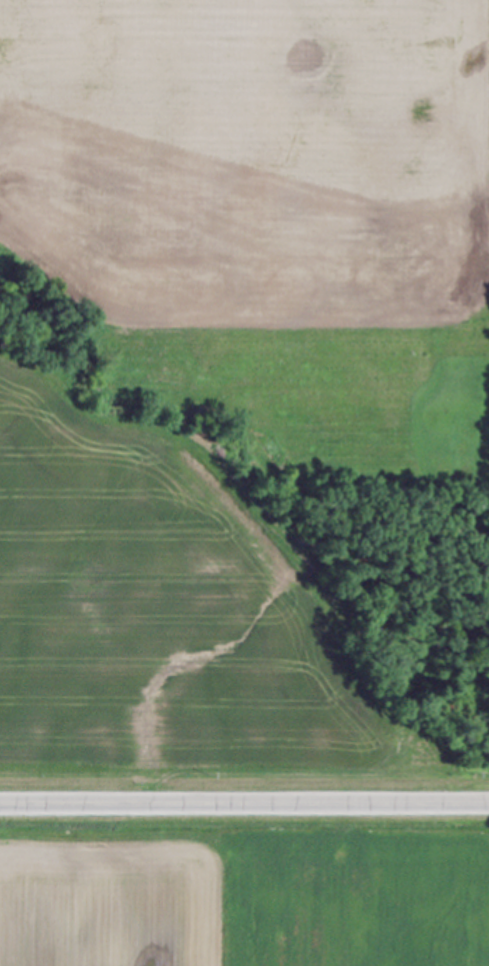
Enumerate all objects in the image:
road: (244, 802)

